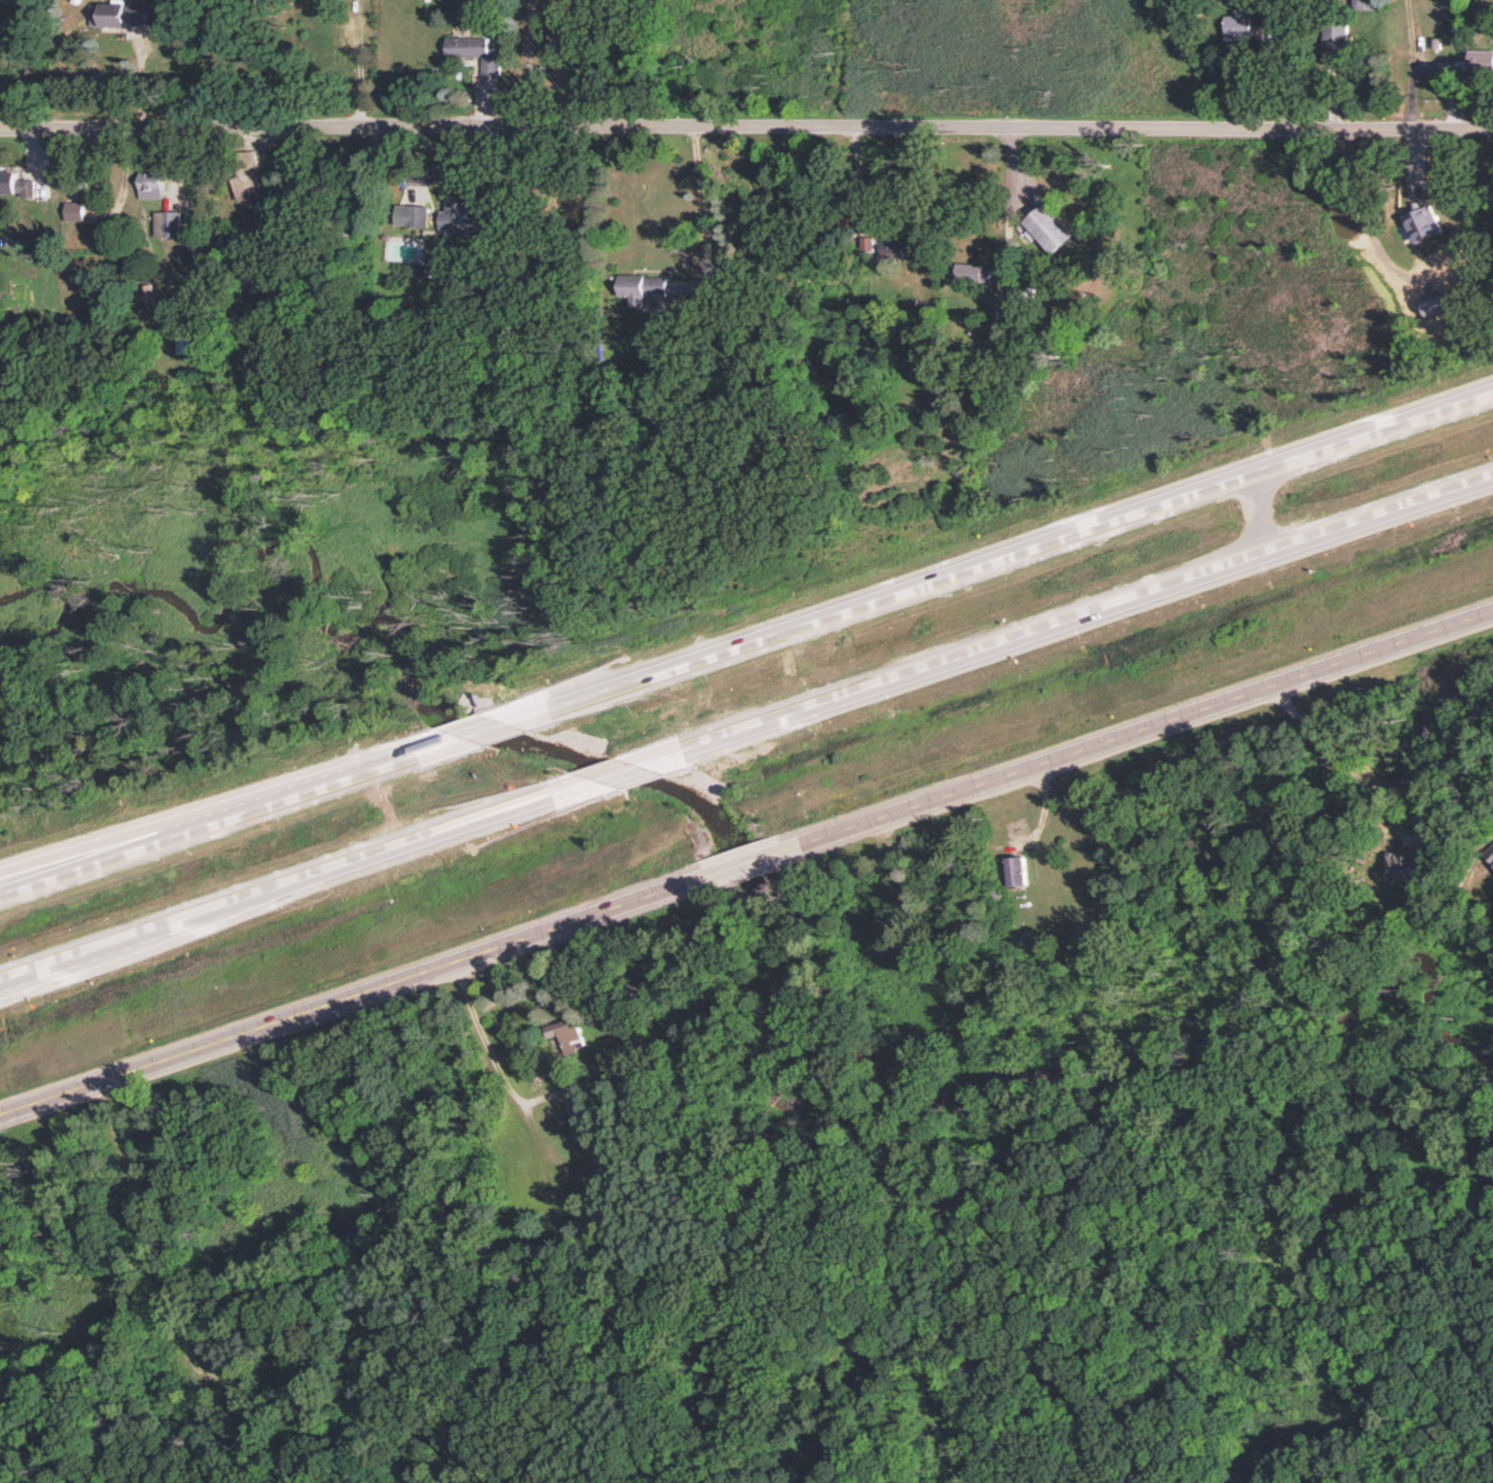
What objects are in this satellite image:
building: (1238, 26)
building: (1336, 38)
building: (473, 51)
building: (1481, 62)
road: (525, 64)
road: (358, 65)
road: (138, 80)
road: (746, 127)
building: (247, 177)
building: (15, 181)
building: (149, 184)
road: (701, 208)
building: (74, 210)
building: (413, 214)
building: (458, 214)
building: (167, 223)
building: (1419, 224)
building: (1048, 227)
building: (867, 243)
building: (899, 246)
building: (645, 291)
building: (182, 344)
road: (1260, 507)
road: (994, 552)
road: (1063, 617)
road: (481, 726)
road: (1121, 732)
road: (1337, 745)
road: (620, 768)
road: (233, 810)
building: (1490, 852)
road: (740, 861)
road: (49, 867)
building: (1407, 867)
building: (1016, 870)
road: (303, 875)
road: (365, 987)
building: (566, 1034)
road: (490, 1054)

